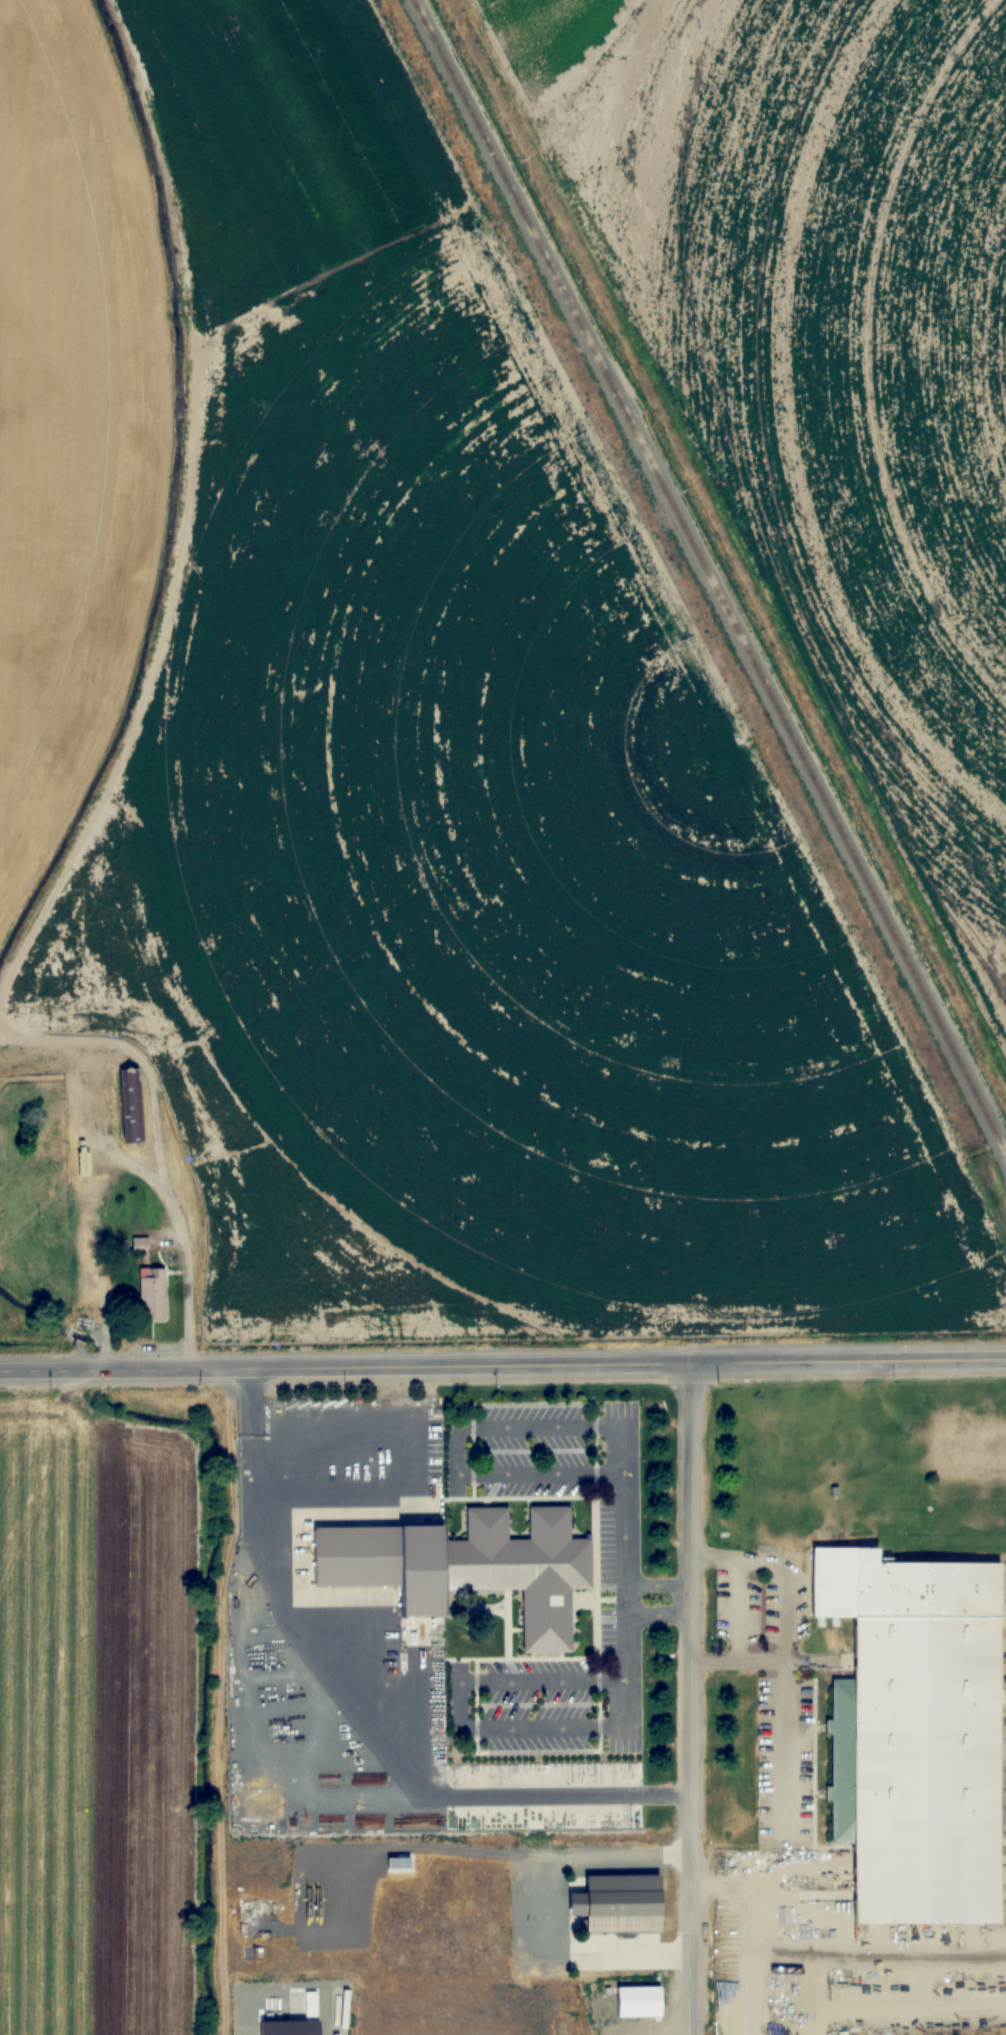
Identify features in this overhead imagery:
railway: (709, 575)
building: (131, 1104)
building: (59, 1128)
railway: (1005, 1152)
building: (140, 1245)
building: (153, 1296)
road: (502, 1360)
building: (360, 1553)
building: (505, 1569)
crop: (111, 1692)
road: (688, 1697)
building: (922, 1731)
building: (399, 1865)
building: (621, 1902)
building: (640, 1999)

